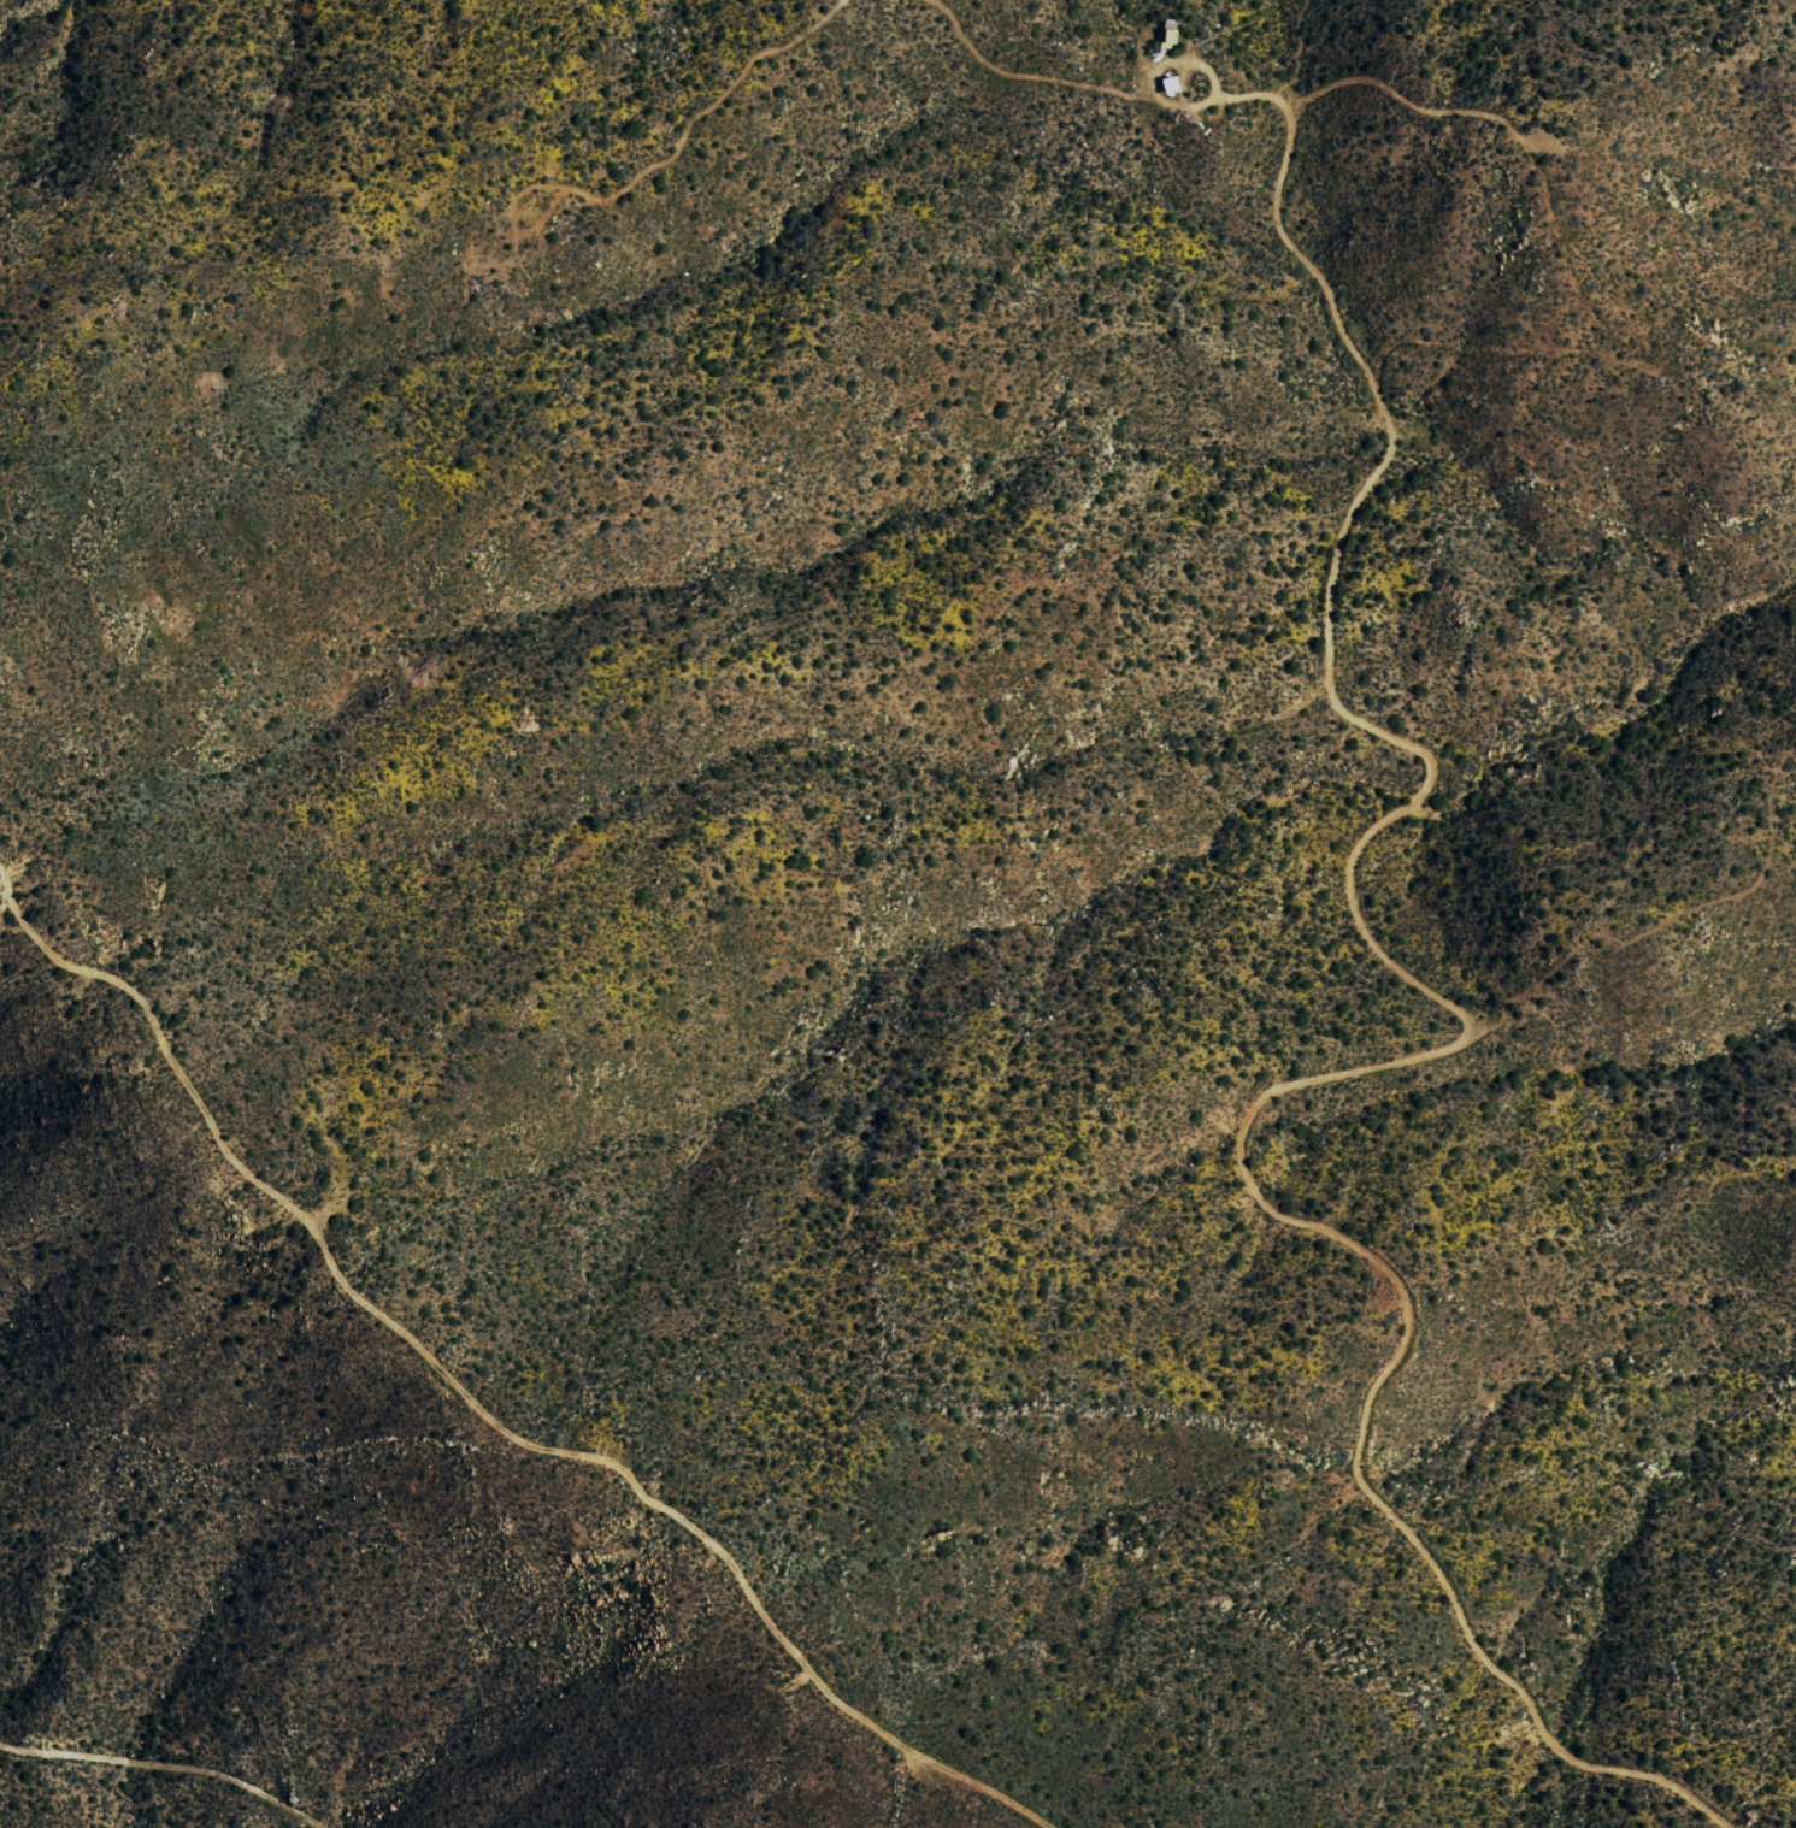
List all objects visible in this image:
road: (616, 1568)

